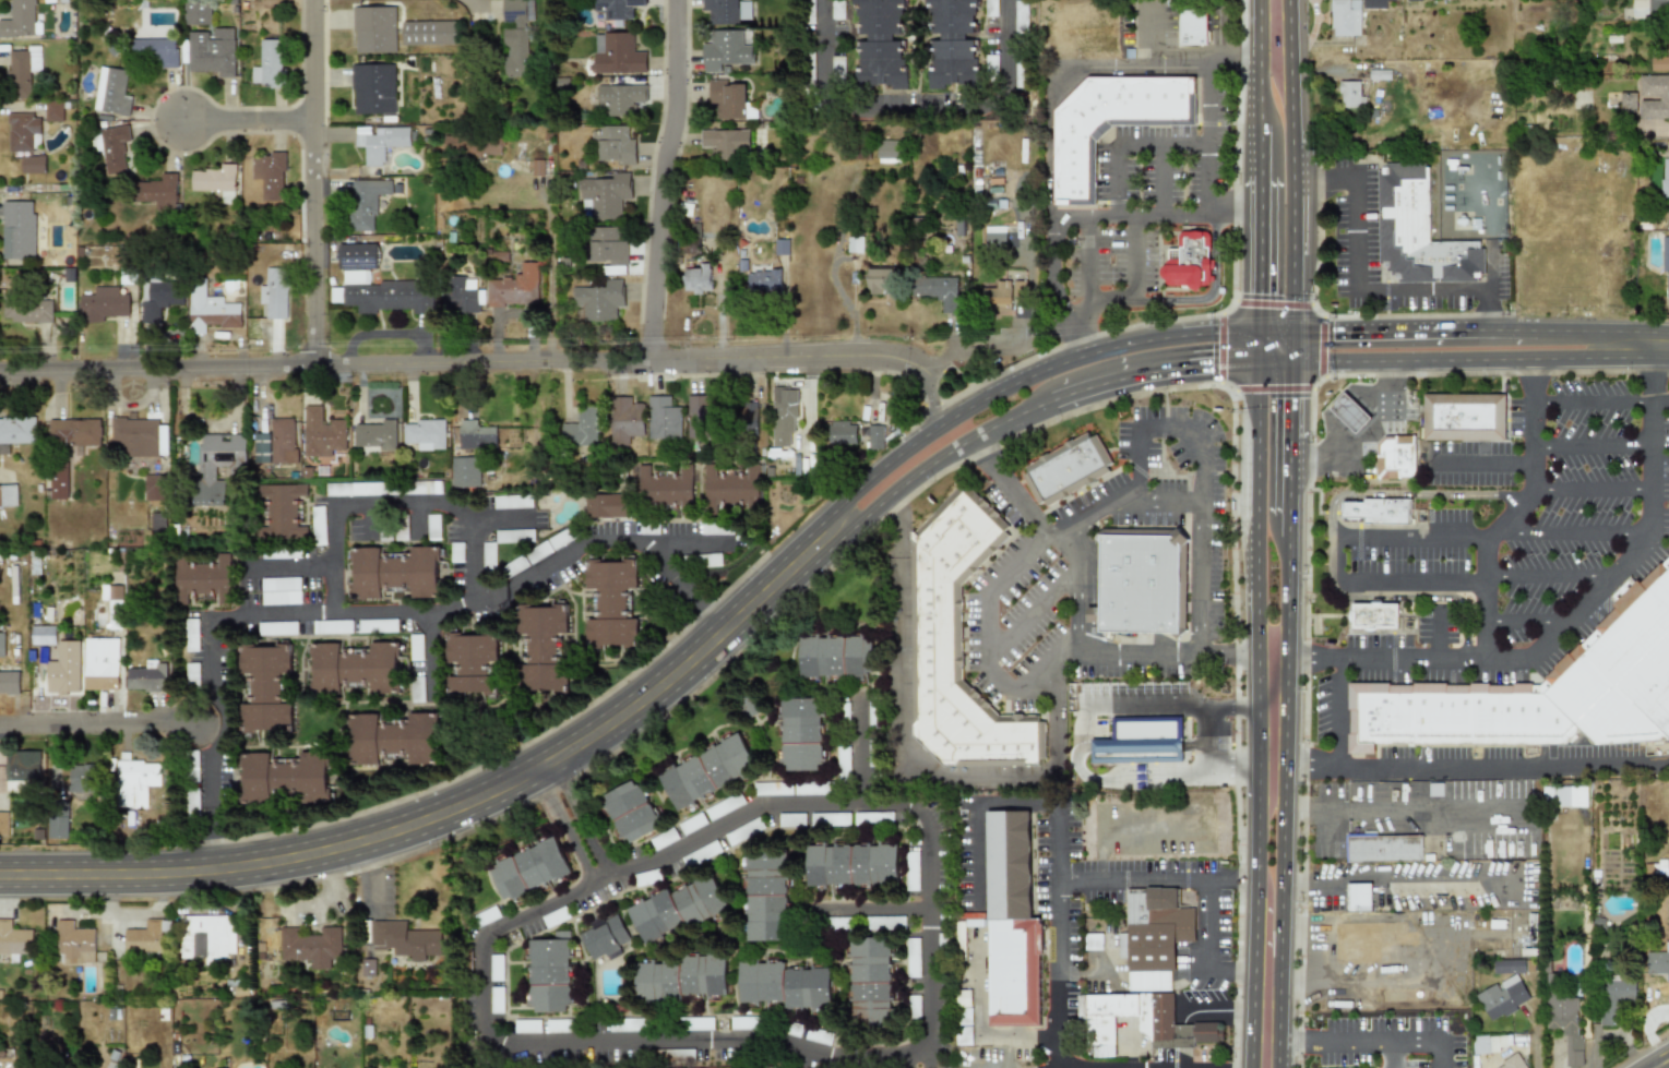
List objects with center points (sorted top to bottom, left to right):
building: (1373, 3)
building: (1650, 7)
building: (990, 8)
building: (620, 10)
building: (836, 10)
road: (475, 11)
building: (728, 11)
building: (198, 12)
building: (1020, 16)
building: (1345, 17)
building: (19, 20)
building: (1191, 26)
building: (375, 28)
building: (430, 33)
road: (1274, 34)
building: (518, 38)
road: (1154, 39)
building: (880, 43)
building: (951, 43)
building: (156, 48)
building: (726, 49)
building: (213, 50)
building: (617, 53)
building: (1660, 63)
building: (271, 65)
building: (836, 67)
building: (22, 70)
building: (373, 88)
building: (116, 93)
building: (1349, 94)
building: (1655, 96)
building: (620, 98)
building: (730, 99)
road: (903, 99)
building: (1628, 101)
road: (1209, 105)
road: (1049, 106)
building: (53, 110)
road: (1274, 122)
road: (248, 123)
building: (1109, 124)
building: (23, 132)
building: (383, 142)
building: (726, 142)
building: (474, 145)
building: (617, 146)
road: (1131, 146)
building: (115, 149)
building: (887, 151)
building: (33, 164)
building: (538, 166)
building: (271, 173)
building: (1665, 173)
building: (214, 179)
road: (656, 179)
road: (1211, 179)
road: (1314, 179)
road: (1159, 180)
road: (312, 184)
building: (156, 190)
building: (606, 194)
road: (1274, 194)
building: (365, 202)
road: (1242, 213)
road: (1185, 214)
road: (1104, 216)
building: (16, 228)
building: (1417, 231)
building: (993, 236)
building: (780, 247)
building: (610, 248)
road: (1274, 254)
road: (1135, 259)
building: (1665, 260)
road: (1088, 261)
building: (1188, 261)
road: (550, 275)
building: (698, 279)
building: (881, 280)
building: (763, 281)
building: (375, 285)
building: (514, 286)
road: (1490, 289)
building: (935, 290)
road: (1368, 290)
building: (274, 292)
building: (461, 295)
building: (158, 298)
building: (996, 298)
building: (601, 301)
road: (1177, 301)
building: (103, 304)
road: (1266, 304)
road: (1283, 305)
building: (27, 310)
building: (210, 310)
road: (1259, 323)
road: (1290, 323)
road: (1479, 329)
road: (1274, 332)
road: (1647, 345)
road: (1257, 346)
road: (1290, 346)
road: (1087, 352)
road: (1479, 359)
road: (1274, 361)
road: (492, 364)
road: (1257, 394)
road: (1289, 399)
road: (1590, 401)
road: (1659, 401)
building: (1348, 412)
building: (699, 417)
building: (784, 417)
building: (1464, 417)
building: (742, 418)
building: (663, 419)
building: (625, 420)
building: (581, 427)
building: (74, 431)
building: (16, 432)
building: (843, 432)
building: (323, 433)
building: (425, 433)
building: (476, 434)
building: (136, 435)
building: (374, 435)
road: (1364, 435)
building: (877, 436)
building: (276, 443)
road: (1591, 445)
building: (1395, 457)
building: (215, 464)
road: (1480, 464)
building: (1065, 468)
building: (464, 471)
road: (1257, 471)
road: (1200, 473)
road: (1287, 478)
building: (59, 487)
road: (1006, 487)
building: (360, 488)
building: (422, 488)
building: (666, 488)
building: (153, 489)
building: (729, 489)
road: (1591, 489)
building: (8, 495)
building: (512, 501)
road: (1148, 504)
building: (604, 505)
road: (391, 509)
building: (1379, 511)
road: (1514, 511)
building: (282, 512)
building: (157, 520)
road: (502, 520)
road: (1070, 521)
building: (317, 525)
building: (431, 526)
building: (717, 528)
road: (1287, 528)
building: (401, 531)
road: (1570, 533)
building: (514, 536)
road: (1412, 537)
road: (681, 541)
building: (549, 545)
building: (455, 552)
building: (283, 554)
building: (489, 556)
building: (704, 560)
road: (1337, 561)
road: (286, 564)
building: (514, 566)
building: (395, 573)
road: (1547, 578)
building: (203, 579)
road: (1255, 579)
road: (673, 580)
building: (1140, 580)
road: (1414, 580)
building: (279, 590)
road: (1286, 590)
building: (611, 602)
road: (1029, 612)
building: (1375, 616)
road: (375, 617)
road: (1527, 619)
building: (377, 625)
road: (1562, 625)
building: (332, 626)
building: (276, 627)
building: (43, 628)
road: (723, 631)
building: (191, 637)
building: (958, 641)
building: (1, 644)
building: (415, 647)
building: (541, 648)
road: (987, 650)
road: (1106, 652)
building: (821, 657)
building: (858, 657)
road: (428, 658)
building: (99, 663)
building: (472, 663)
building: (63, 669)
building: (355, 669)
building: (192, 674)
building: (148, 676)
building: (9, 682)
building: (266, 687)
building: (1541, 689)
road: (664, 700)
road: (1168, 703)
road: (1240, 708)
road: (1339, 711)
road: (1271, 715)
road: (100, 723)
building: (800, 734)
road: (1208, 739)
building: (393, 740)
building: (1140, 741)
road: (910, 755)
road: (533, 757)
building: (842, 761)
road: (857, 761)
road: (520, 764)
road: (1240, 768)
road: (1470, 768)
building: (22, 770)
building: (707, 770)
road: (1142, 770)
building: (87, 776)
building: (1140, 777)
building: (287, 778)
building: (134, 780)
building: (191, 781)
road: (213, 789)
building: (772, 789)
building: (809, 789)
building: (1570, 795)
building: (724, 806)
building: (631, 811)
road: (1402, 813)
building: (828, 818)
building: (789, 819)
building: (4, 823)
road: (584, 824)
building: (691, 824)
building: (57, 828)
building: (742, 831)
road: (563, 832)
building: (663, 838)
road: (1058, 844)
building: (1383, 848)
building: (701, 853)
building: (850, 864)
road: (213, 868)
building: (529, 868)
building: (911, 871)
road: (1157, 877)
road: (1400, 878)
road: (1255, 885)
road: (1281, 887)
building: (765, 897)
building: (1358, 897)
building: (699, 900)
road: (867, 907)
building: (486, 915)
building: (654, 916)
building: (884, 922)
building: (1011, 922)
road: (1209, 922)
road: (1266, 926)
building: (1153, 936)
building: (208, 937)
building: (604, 937)
building: (14, 939)
building: (145, 939)
building: (406, 939)
building: (1364, 939)
building: (1092, 940)
building: (74, 943)
building: (311, 946)
road: (1415, 953)
building: (911, 957)
building: (1658, 962)
building: (1509, 965)
building: (496, 967)
building: (368, 968)
road: (1235, 969)
building: (550, 973)
building: (680, 977)
building: (870, 980)
building: (761, 982)
building: (807, 987)
building: (1501, 997)
building: (1613, 997)
building: (496, 999)
building: (913, 1006)
road: (1223, 1012)
building: (964, 1018)
building: (1137, 1021)
building: (1564, 1022)
road: (1265, 1023)
building: (528, 1025)
road: (1366, 1040)
building: (1485, 1044)
road: (860, 1054)
road: (1386, 1054)
road: (1655, 1059)
building: (1513, 1060)
road: (1051, 1065)

